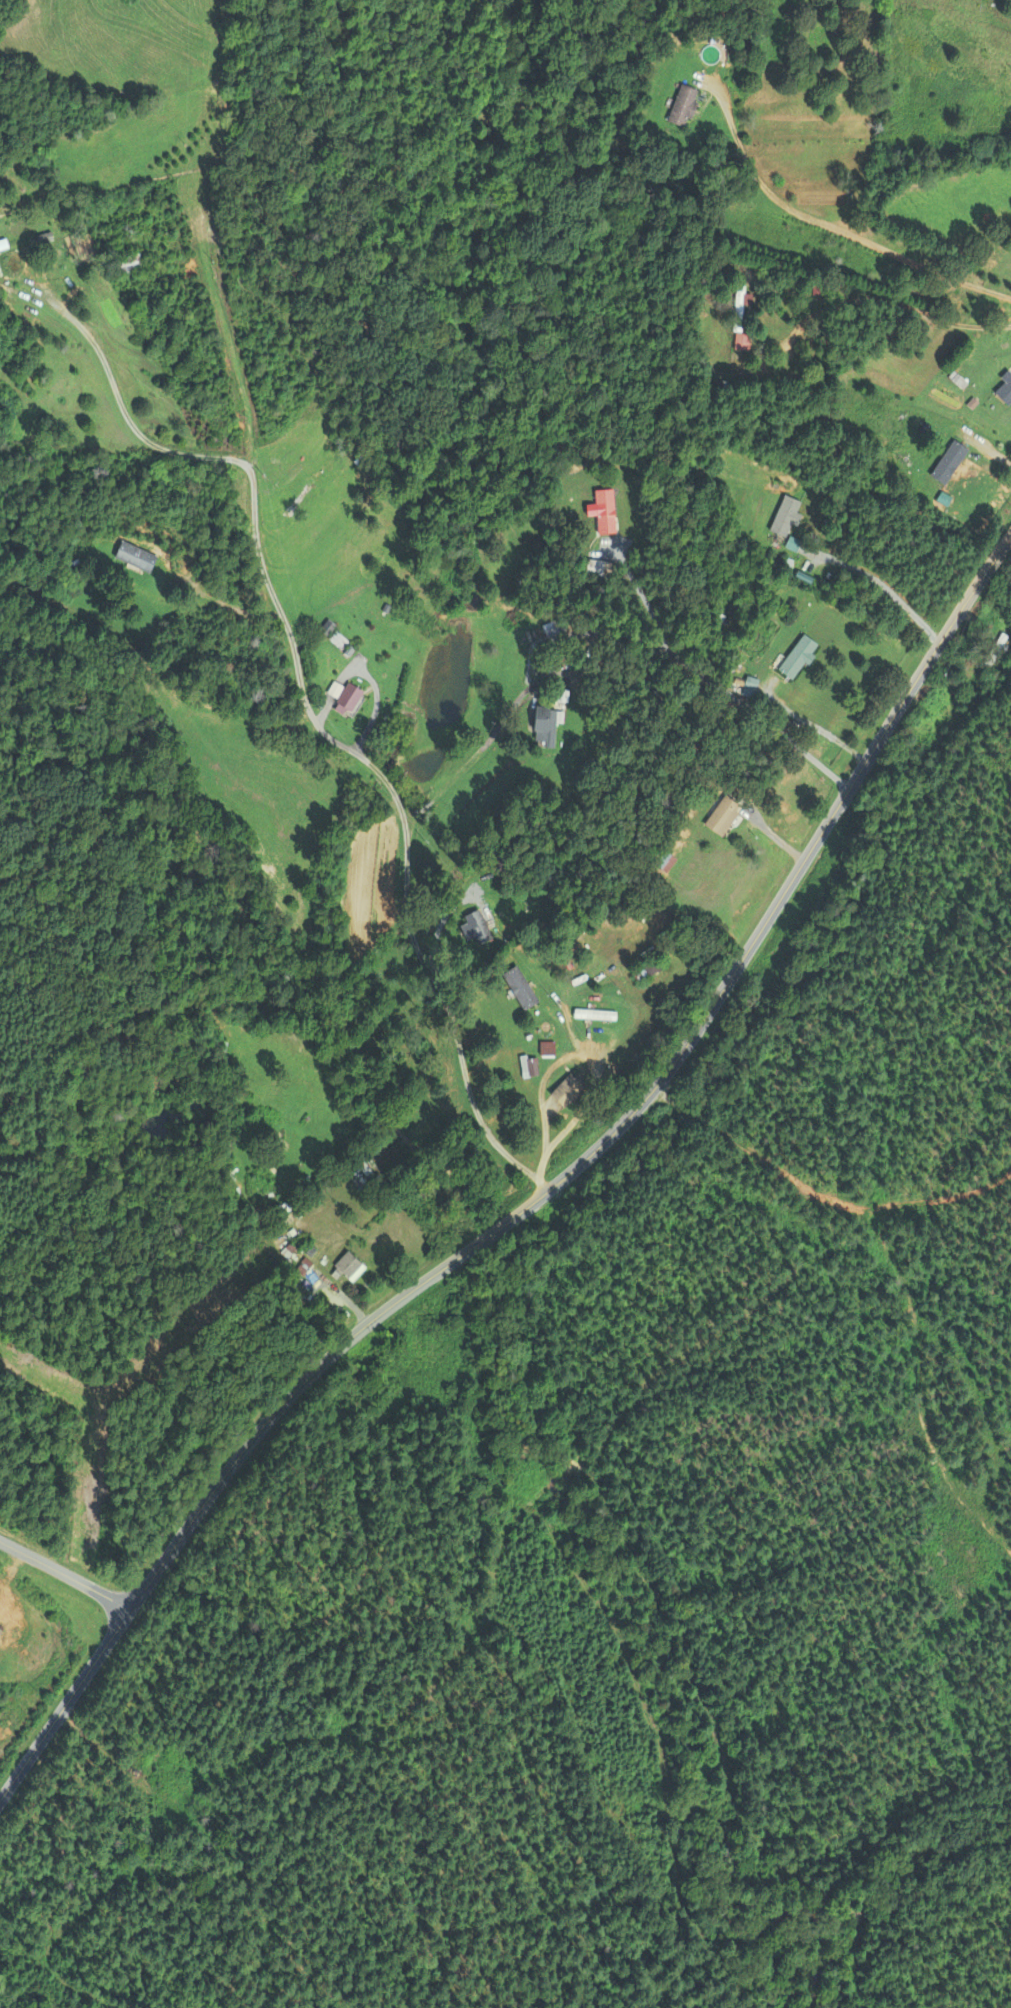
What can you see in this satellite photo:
building: (684, 107)
road: (822, 223)
building: (1, 246)
building: (128, 262)
road: (880, 296)
building: (742, 320)
building: (1005, 390)
road: (994, 454)
building: (949, 463)
building: (605, 512)
building: (786, 517)
building: (134, 556)
building: (594, 569)
road: (883, 585)
road: (648, 602)
building: (337, 640)
building: (996, 650)
building: (797, 658)
building: (565, 661)
road: (714, 680)
building: (346, 700)
building: (547, 727)
building: (721, 815)
road: (404, 825)
building: (665, 862)
building: (476, 925)
building: (648, 967)
building: (519, 988)
building: (655, 1005)
building: (593, 1015)
building: (546, 1048)
building: (528, 1067)
building: (565, 1091)
road: (571, 1123)
building: (369, 1174)
road: (539, 1197)
building: (346, 1265)
road: (65, 1575)

